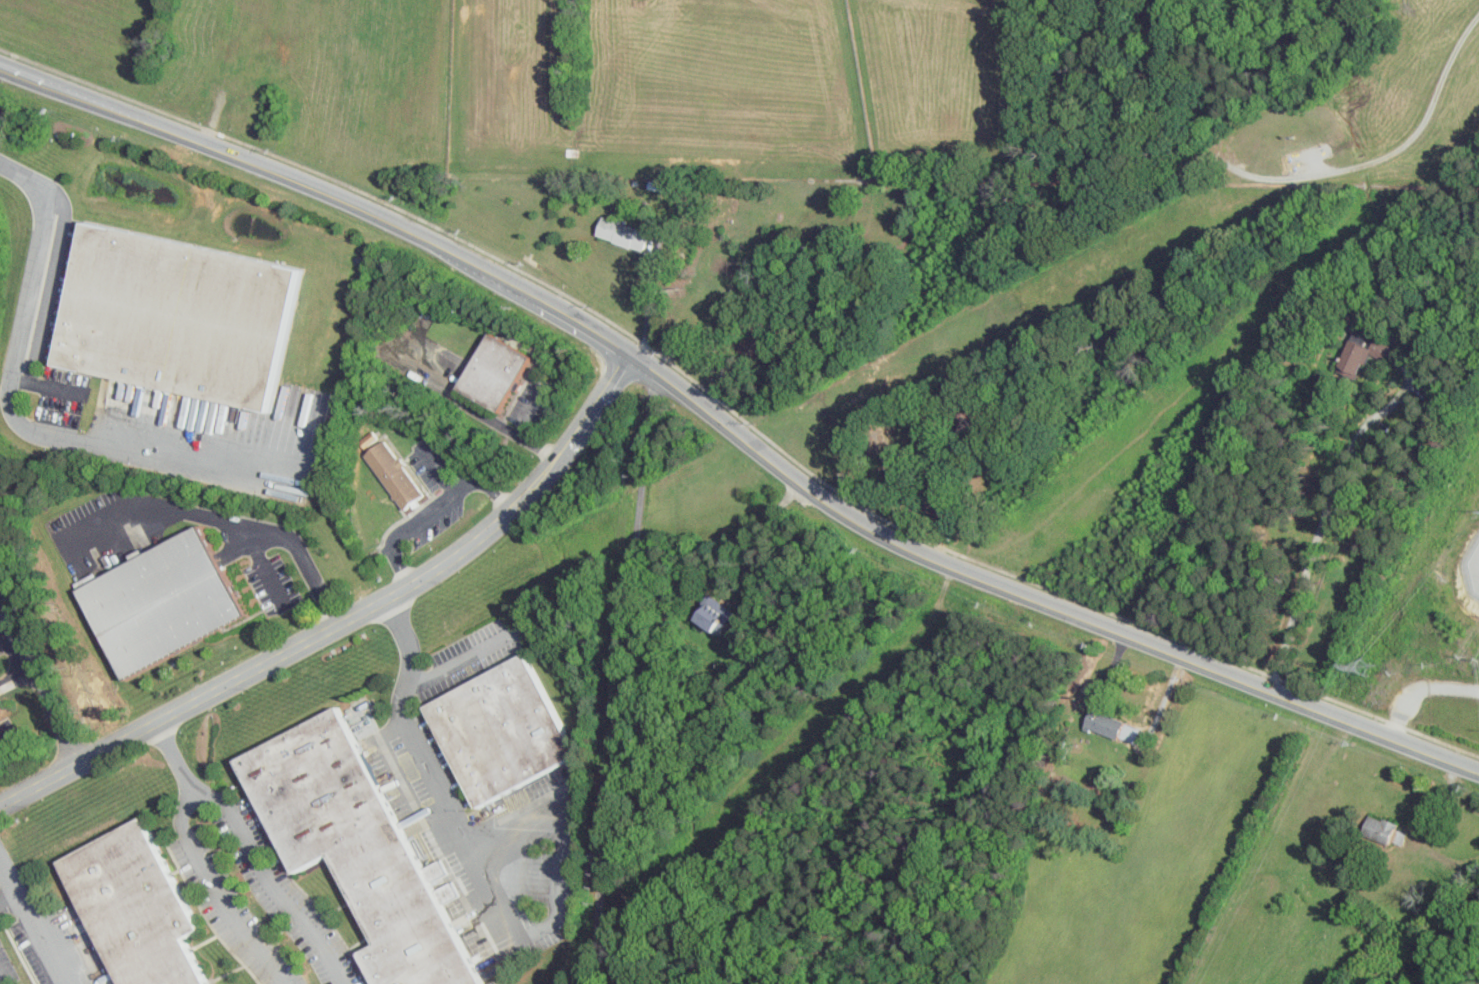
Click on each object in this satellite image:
building: (632, 235)
building: (182, 312)
building: (1359, 355)
building: (496, 369)
road: (463, 403)
road: (592, 405)
road: (10, 408)
road: (735, 412)
road: (532, 414)
road: (733, 435)
road: (539, 447)
road: (438, 470)
building: (393, 477)
road: (434, 507)
road: (220, 516)
road: (1311, 549)
road: (761, 559)
power substation: (1473, 567)
building: (165, 599)
road: (289, 644)
road: (459, 659)
power tower: (1367, 667)
road: (619, 678)
road: (40, 683)
road: (1420, 690)
building: (2, 706)
building: (1109, 726)
building: (503, 728)
road: (176, 755)
road: (388, 756)
building: (1380, 829)
building: (359, 848)
road: (271, 883)
road: (12, 884)
road: (219, 895)
road: (489, 900)
building: (141, 907)
road: (41, 937)
road: (622, 974)

